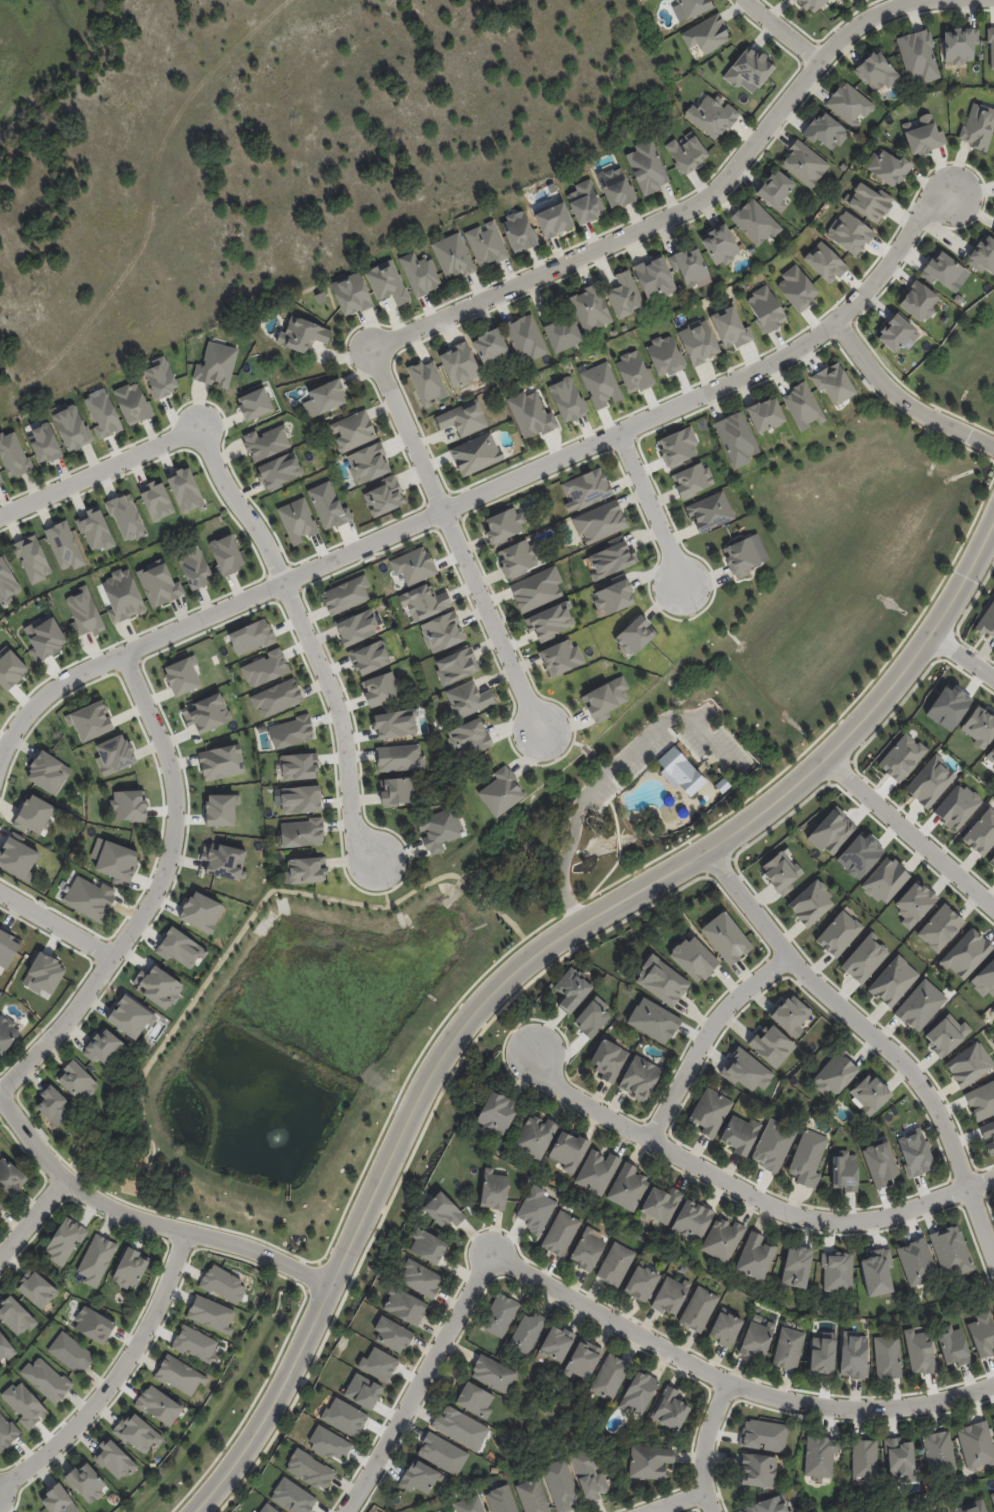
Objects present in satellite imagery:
building: (814, 4)
building: (696, 7)
road: (781, 30)
building: (708, 34)
building: (992, 44)
building: (964, 45)
building: (921, 56)
building: (751, 69)
building: (879, 71)
building: (701, 72)
building: (961, 80)
building: (851, 104)
building: (713, 116)
building: (979, 127)
building: (828, 131)
building: (924, 135)
building: (626, 147)
building: (690, 154)
building: (807, 165)
building: (890, 167)
building: (649, 168)
building: (562, 184)
building: (618, 188)
building: (777, 191)
building: (869, 202)
building: (586, 203)
building: (553, 220)
building: (758, 223)
building: (519, 229)
building: (848, 233)
building: (993, 233)
building: (488, 243)
building: (722, 246)
road: (592, 248)
building: (454, 255)
building: (984, 257)
building: (824, 262)
building: (692, 266)
building: (944, 269)
building: (421, 273)
building: (653, 278)
building: (386, 282)
building: (796, 288)
building: (685, 292)
building: (350, 294)
building: (623, 294)
building: (921, 301)
building: (591, 308)
building: (769, 310)
building: (730, 327)
building: (615, 331)
building: (564, 333)
building: (304, 334)
building: (900, 334)
building: (527, 337)
building: (697, 341)
building: (493, 347)
building: (664, 355)
building: (218, 364)
building: (458, 364)
building: (632, 371)
building: (160, 378)
building: (426, 382)
building: (833, 383)
building: (600, 385)
building: (324, 398)
road: (901, 398)
building: (566, 399)
building: (132, 403)
building: (253, 404)
building: (806, 405)
building: (102, 413)
building: (767, 413)
building: (530, 414)
building: (463, 418)
building: (71, 428)
building: (351, 431)
road: (181, 434)
building: (739, 438)
building: (265, 443)
building: (44, 444)
building: (677, 446)
building: (475, 454)
building: (13, 455)
building: (367, 463)
building: (278, 471)
building: (691, 480)
building: (0, 481)
road: (488, 488)
building: (585, 489)
building: (184, 490)
building: (383, 496)
building: (156, 500)
road: (650, 510)
building: (714, 510)
building: (126, 517)
building: (296, 520)
building: (341, 521)
building: (599, 522)
building: (503, 525)
building: (95, 530)
building: (64, 545)
building: (749, 554)
building: (225, 555)
building: (370, 557)
building: (32, 558)
building: (516, 558)
building: (611, 560)
building: (413, 565)
building: (194, 569)
building: (7, 582)
building: (158, 583)
building: (536, 588)
building: (345, 594)
building: (122, 596)
building: (613, 596)
building: (423, 602)
building: (84, 612)
building: (987, 620)
road: (489, 621)
building: (550, 621)
building: (356, 627)
building: (441, 632)
building: (637, 635)
building: (250, 636)
building: (44, 637)
road: (960, 656)
building: (369, 657)
building: (560, 657)
building: (455, 665)
building: (265, 668)
building: (11, 669)
building: (182, 676)
building: (379, 689)
building: (276, 698)
building: (607, 698)
building: (467, 699)
building: (206, 713)
road: (336, 717)
building: (90, 721)
building: (393, 724)
building: (979, 727)
building: (290, 732)
building: (468, 737)
building: (114, 754)
building: (990, 754)
building: (901, 757)
building: (399, 758)
building: (219, 762)
building: (298, 766)
building: (47, 772)
building: (683, 772)
road: (607, 776)
building: (930, 781)
building: (724, 785)
building: (398, 791)
building: (503, 791)
building: (300, 799)
building: (127, 805)
building: (957, 806)
building: (220, 809)
building: (33, 814)
building: (442, 829)
road: (909, 830)
building: (831, 831)
building: (301, 832)
building: (981, 832)
building: (17, 858)
building: (114, 859)
building: (222, 860)
building: (991, 861)
building: (304, 870)
building: (780, 872)
building: (884, 880)
road: (155, 891)
building: (89, 897)
building: (810, 903)
building: (913, 903)
building: (200, 912)
road: (54, 925)
building: (939, 927)
building: (838, 933)
building: (725, 937)
building: (7, 948)
building: (179, 948)
building: (965, 953)
road: (530, 957)
building: (693, 958)
building: (864, 958)
building: (43, 974)
building: (984, 979)
building: (661, 981)
building: (892, 981)
building: (157, 986)
building: (575, 987)
building: (919, 1005)
building: (992, 1010)
building: (790, 1015)
building: (130, 1017)
building: (592, 1017)
building: (653, 1020)
building: (945, 1034)
building: (7, 1035)
road: (703, 1035)
road: (873, 1039)
building: (770, 1045)
building: (102, 1046)
building: (610, 1059)
building: (968, 1064)
building: (745, 1071)
building: (834, 1073)
building: (642, 1076)
building: (78, 1082)
building: (970, 1089)
building: (868, 1094)
building: (56, 1107)
building: (500, 1111)
building: (711, 1112)
building: (44, 1134)
building: (536, 1136)
building: (740, 1136)
building: (987, 1136)
building: (772, 1145)
building: (571, 1149)
building: (918, 1152)
building: (809, 1158)
building: (879, 1163)
building: (844, 1170)
building: (599, 1171)
building: (11, 1176)
building: (629, 1187)
building: (495, 1188)
road: (746, 1191)
building: (663, 1203)
building: (1, 1204)
building: (534, 1209)
building: (444, 1210)
road: (32, 1217)
road: (147, 1219)
building: (694, 1220)
building: (562, 1233)
building: (724, 1239)
building: (64, 1240)
building: (430, 1245)
building: (953, 1250)
building: (589, 1251)
building: (757, 1256)
building: (96, 1259)
building: (915, 1261)
building: (618, 1263)
building: (132, 1266)
building: (795, 1266)
building: (836, 1271)
building: (876, 1272)
building: (422, 1278)
building: (645, 1281)
building: (223, 1284)
building: (36, 1290)
building: (672, 1295)
building: (406, 1306)
building: (700, 1310)
building: (210, 1314)
building: (501, 1314)
building: (15, 1316)
building: (95, 1323)
building: (801, 1326)
building: (727, 1328)
building: (394, 1333)
building: (529, 1333)
building: (982, 1334)
building: (758, 1339)
building: (194, 1343)
building: (559, 1344)
building: (952, 1346)
building: (5, 1348)
building: (789, 1348)
building: (918, 1351)
building: (72, 1352)
building: (822, 1352)
building: (855, 1354)
building: (886, 1356)
building: (584, 1359)
building: (378, 1364)
building: (495, 1373)
building: (179, 1375)
road: (116, 1376)
building: (610, 1377)
building: (47, 1379)
road: (730, 1382)
road: (420, 1383)
building: (362, 1391)
building: (640, 1392)
building: (476, 1400)
building: (24, 1404)
building: (158, 1405)
building: (672, 1409)
building: (344, 1416)
building: (993, 1418)
building: (462, 1427)
building: (7, 1432)
building: (137, 1433)
building: (766, 1435)
building: (328, 1443)
building: (975, 1444)
road: (705, 1445)
building: (444, 1453)
building: (820, 1454)
building: (941, 1455)
building: (901, 1458)
building: (113, 1459)
building: (865, 1459)
building: (652, 1461)
building: (312, 1468)
building: (761, 1469)
building: (592, 1473)
building: (418, 1477)
building: (87, 1482)
building: (563, 1484)
building: (294, 1496)
building: (535, 1496)
building: (992, 1498)
building: (60, 1500)
building: (503, 1500)
road: (676, 1501)
building: (472, 1505)
building: (770, 1505)
building: (971, 1507)
building: (269, 1508)
building: (941, 1511)
building: (949, 1511)
building: (951, 1511)

